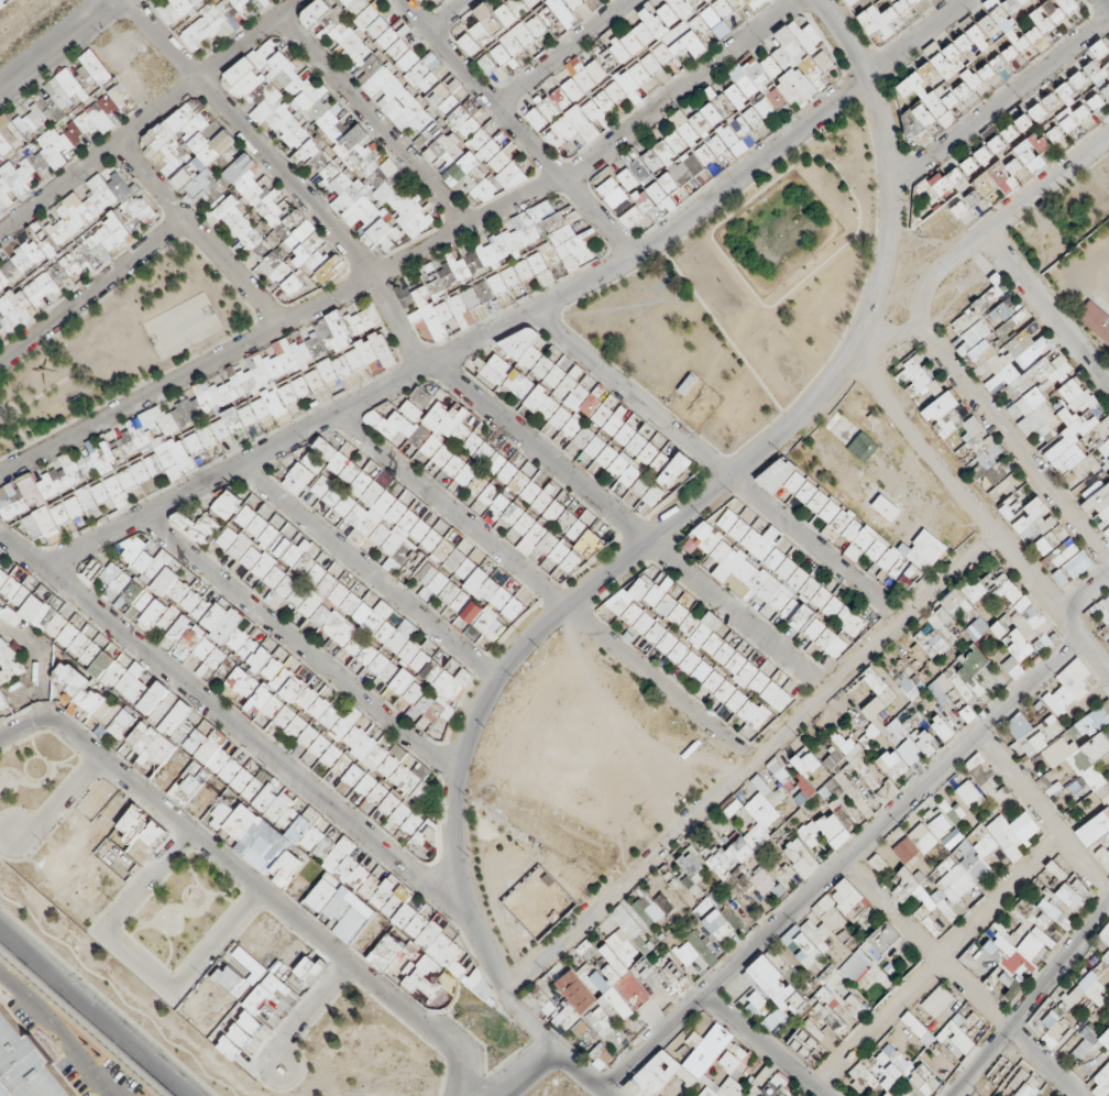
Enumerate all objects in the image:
park: (779, 232)

